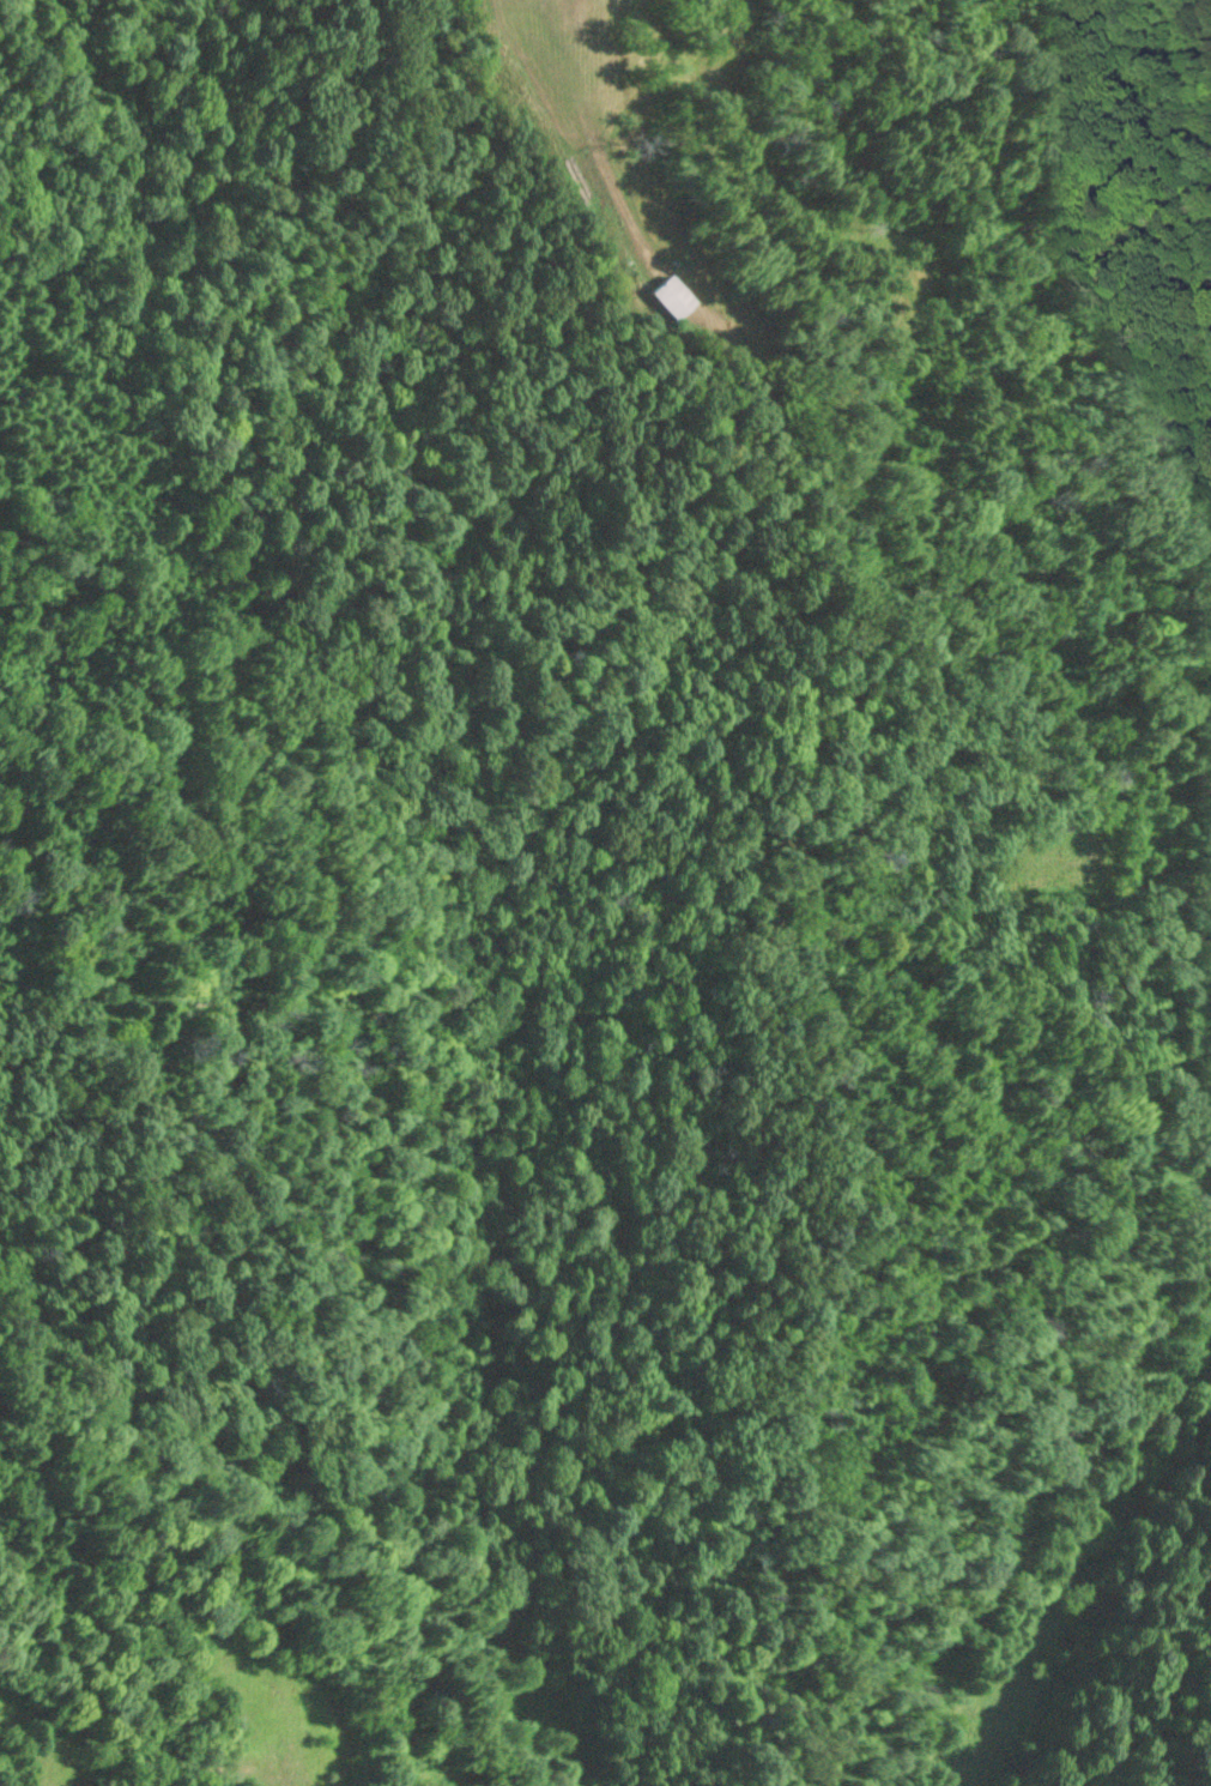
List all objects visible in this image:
building: (670, 298)

